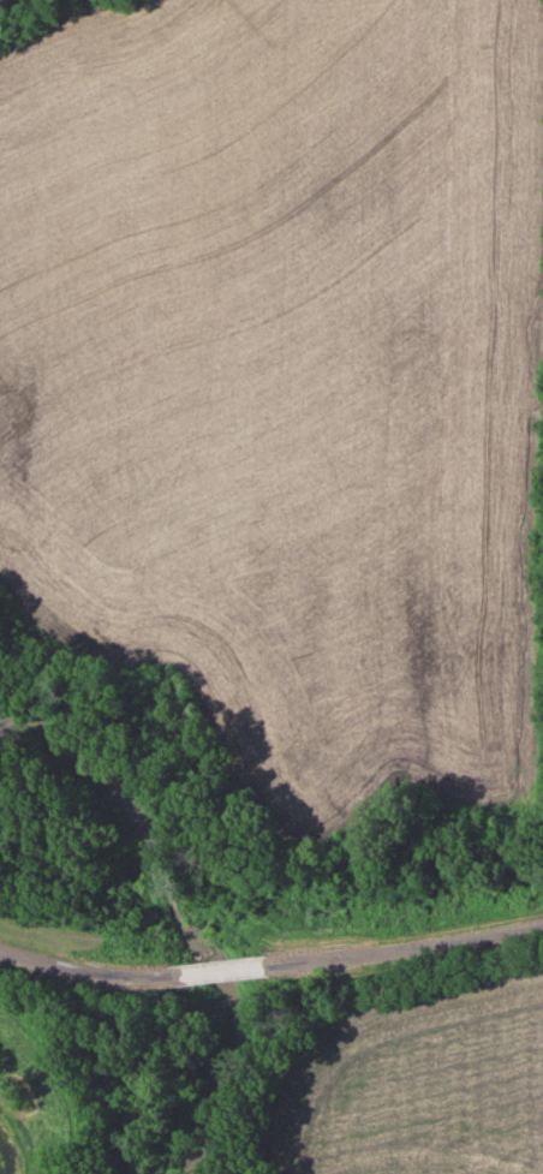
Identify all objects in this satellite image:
road: (405, 948)
road: (221, 970)
road: (86, 971)
crop: (419, 1083)
river: (201, 1087)

